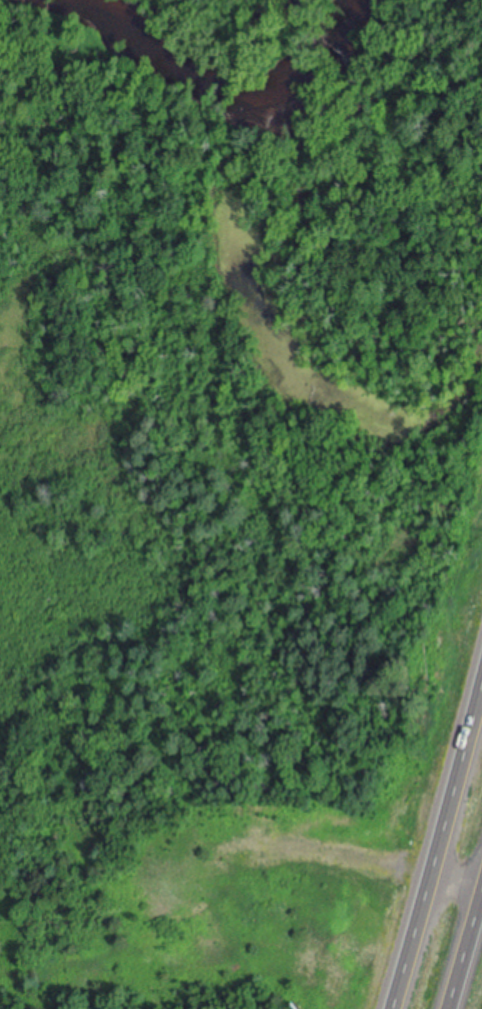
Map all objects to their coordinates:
river: (334, 49)
river: (183, 53)
road: (437, 844)
road: (455, 879)
road: (465, 951)

